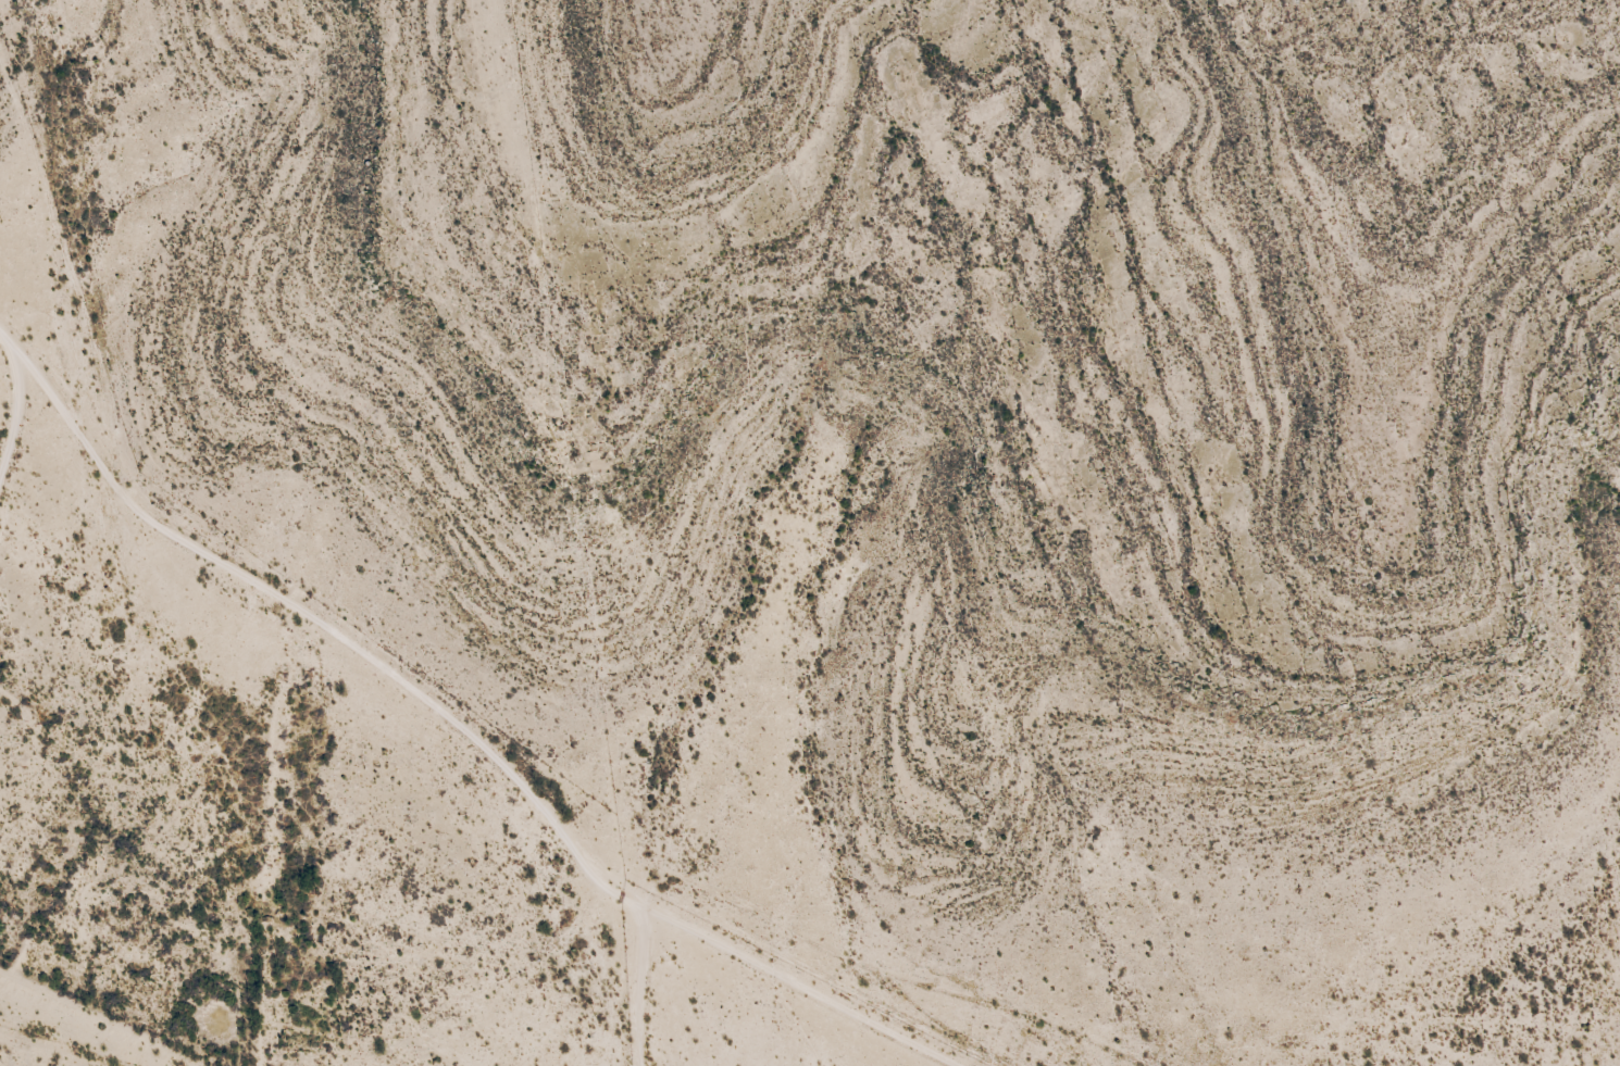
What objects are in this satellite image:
road: (15, 399)
road: (553, 769)
road: (1044, 1056)

